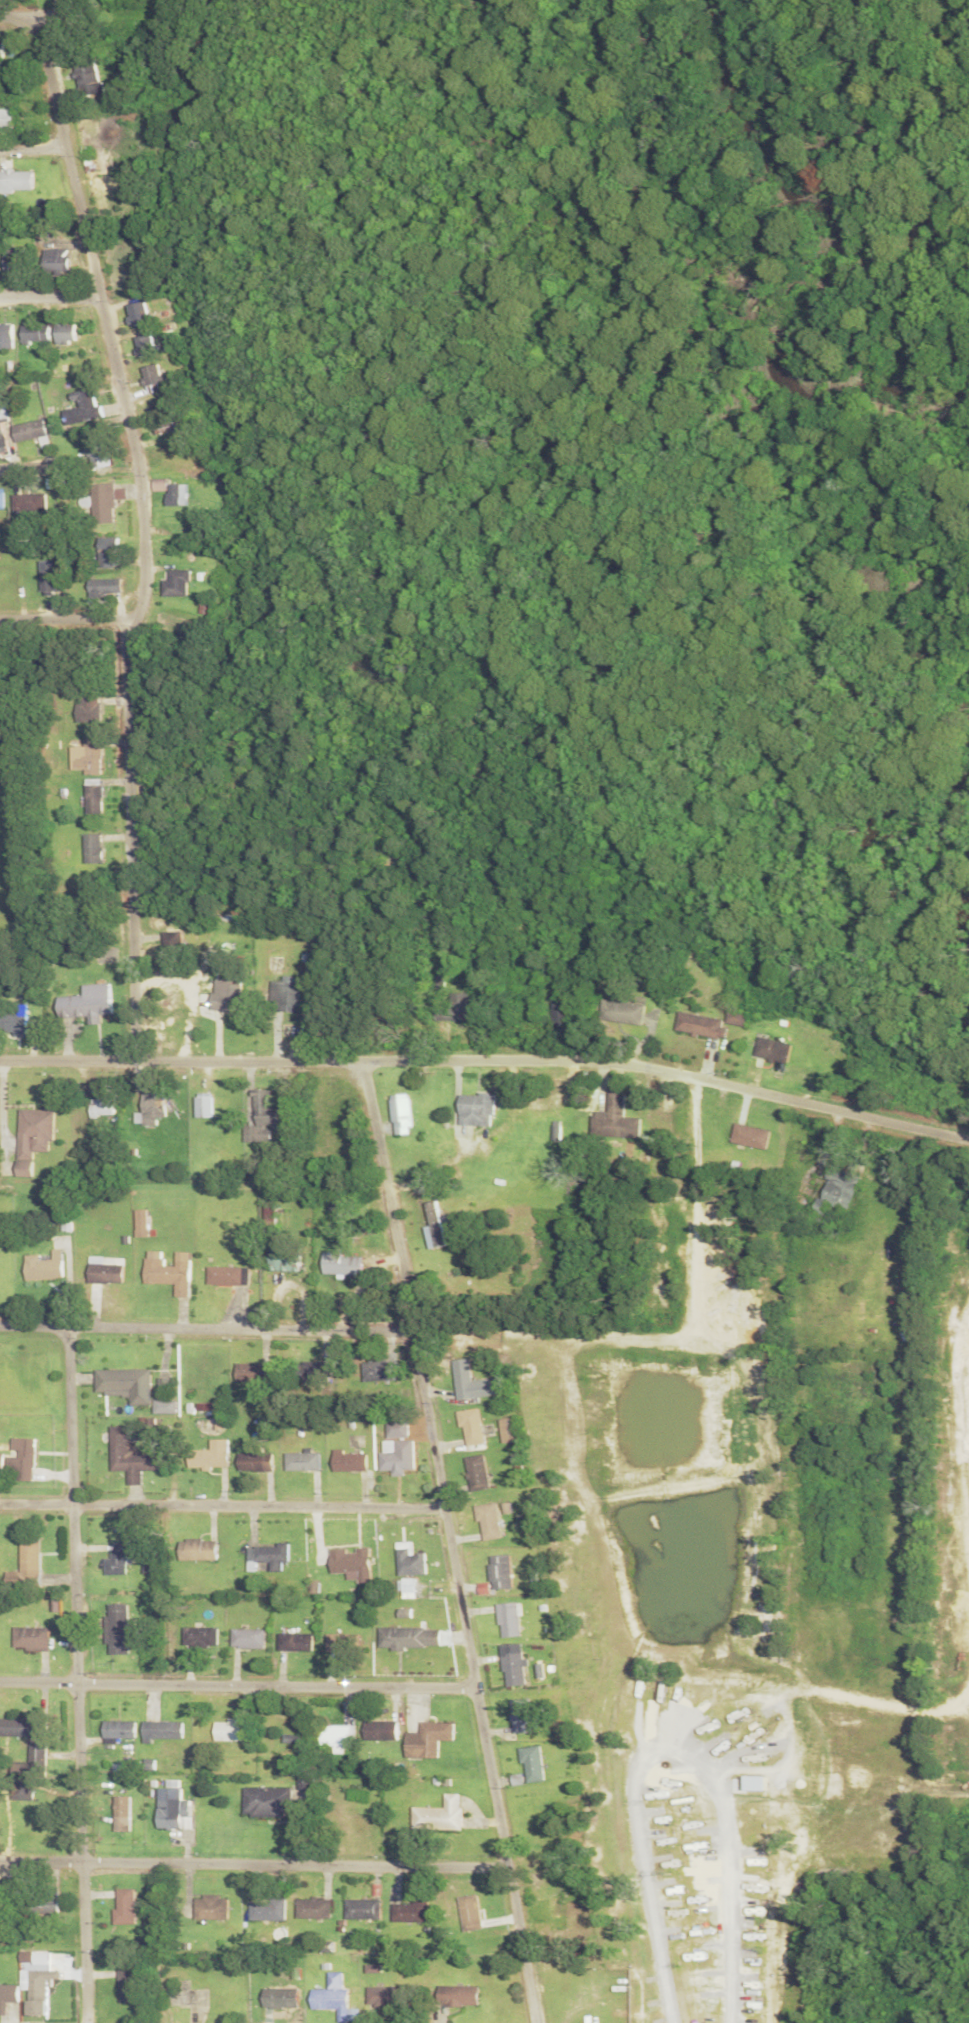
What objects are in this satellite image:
road: (7, 5)
road: (17, 12)
road: (33, 146)
road: (50, 292)
road: (5, 465)
road: (144, 532)
road: (68, 615)
road: (488, 1055)
road: (208, 1322)
road: (224, 1500)
road: (455, 1539)
road: (78, 1671)
road: (239, 1678)
road: (255, 1859)

